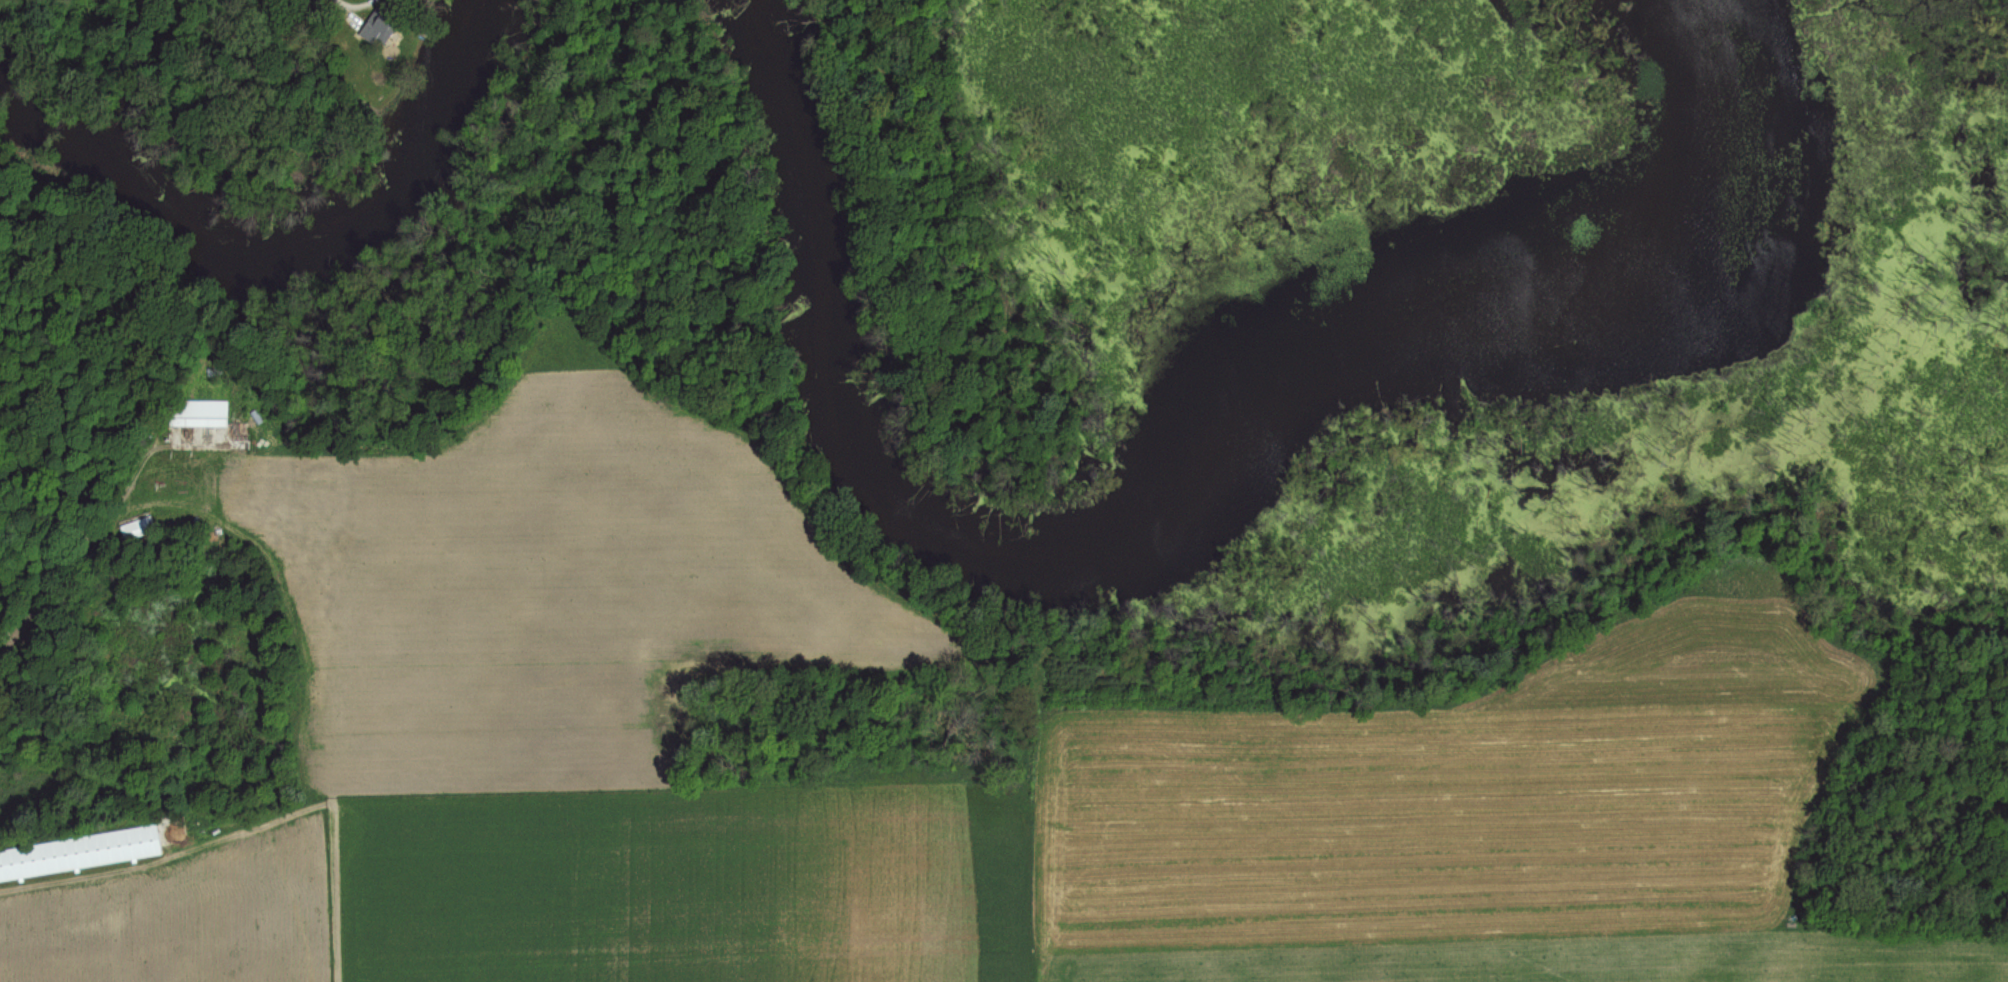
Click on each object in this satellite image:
road: (351, 16)
building: (380, 26)
river: (289, 260)
river: (1179, 483)

